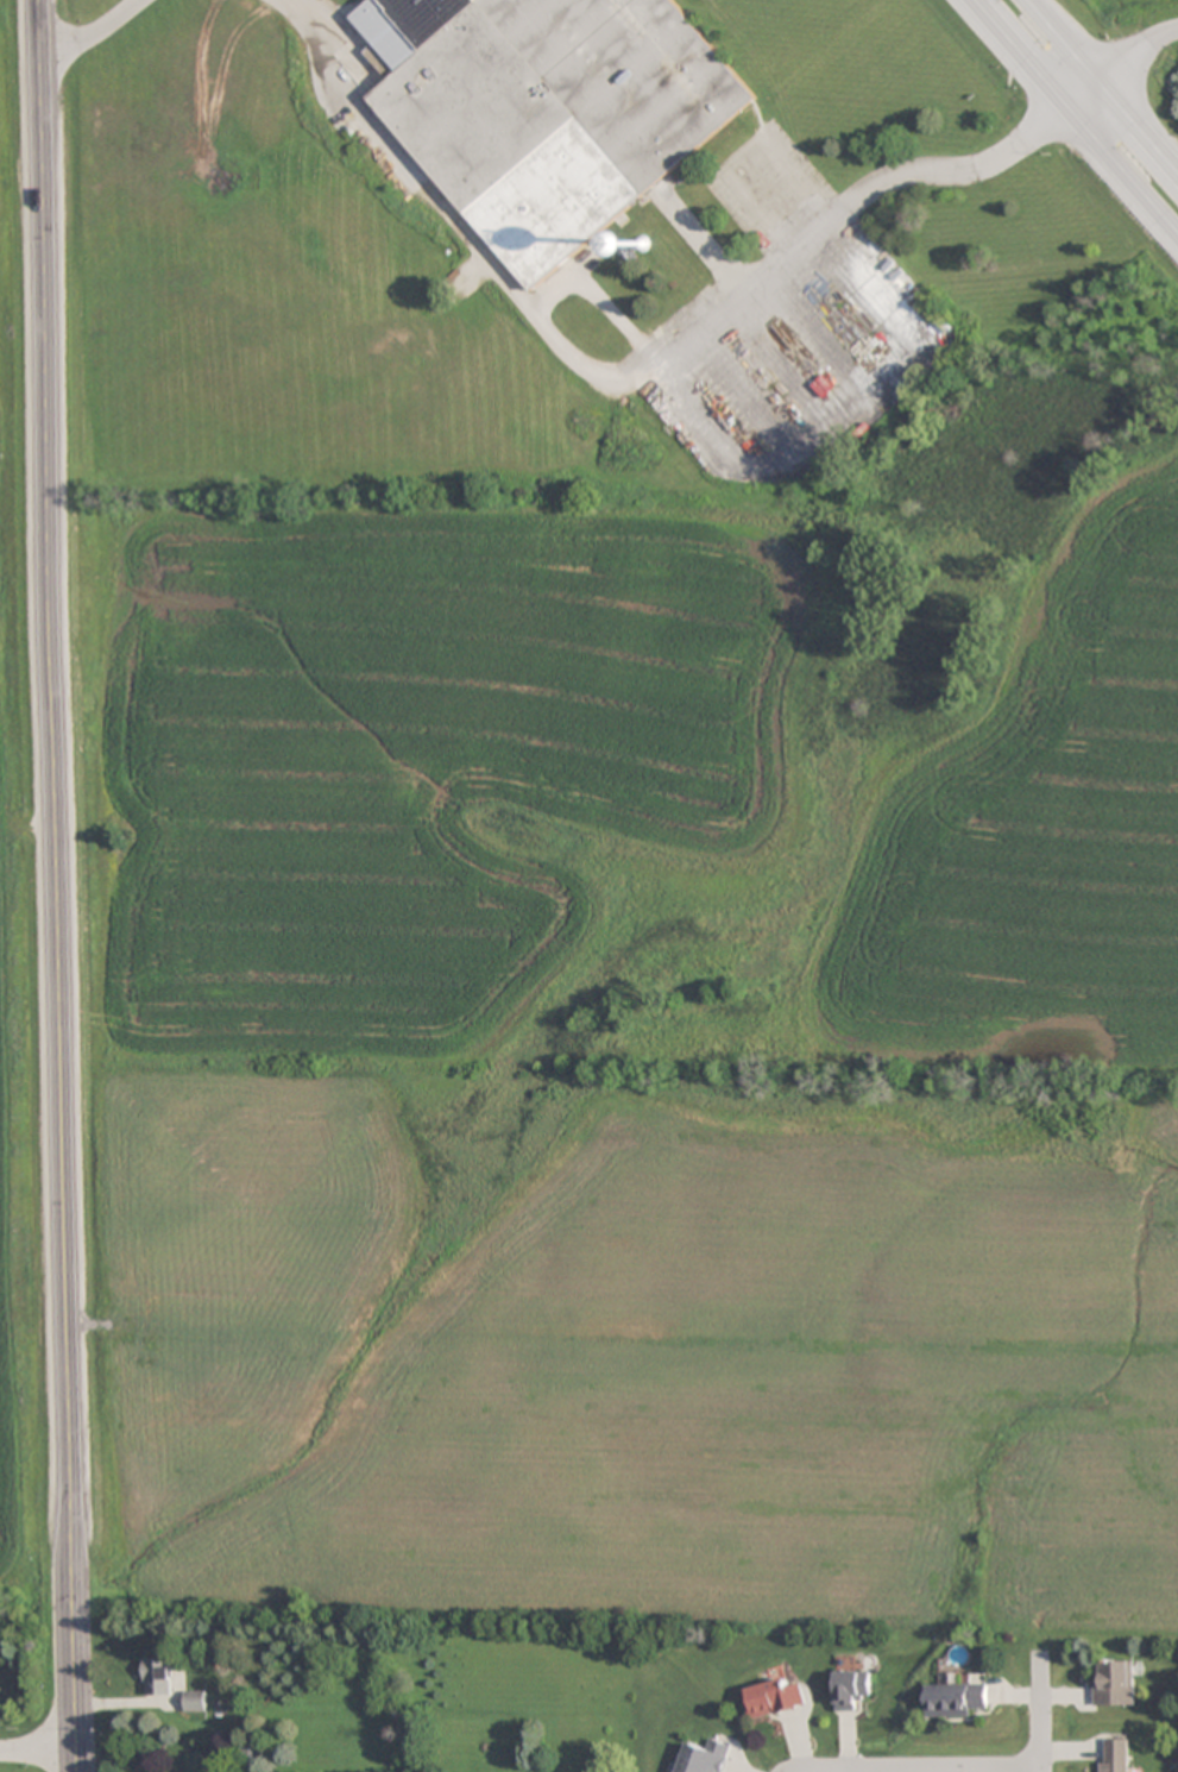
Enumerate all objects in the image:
road: (88, 33)
road: (1125, 67)
road: (1104, 82)
building: (546, 108)
road: (1078, 112)
building: (641, 244)
road: (632, 381)
road: (55, 885)
crop: (21, 905)
crop: (644, 1037)
building: (157, 1676)
building: (1114, 1685)
building: (850, 1689)
building: (770, 1698)
building: (956, 1699)
building: (194, 1701)
road: (1042, 1713)
road: (37, 1752)
building: (1116, 1755)
building: (704, 1757)
road: (819, 1767)
road: (949, 1768)

